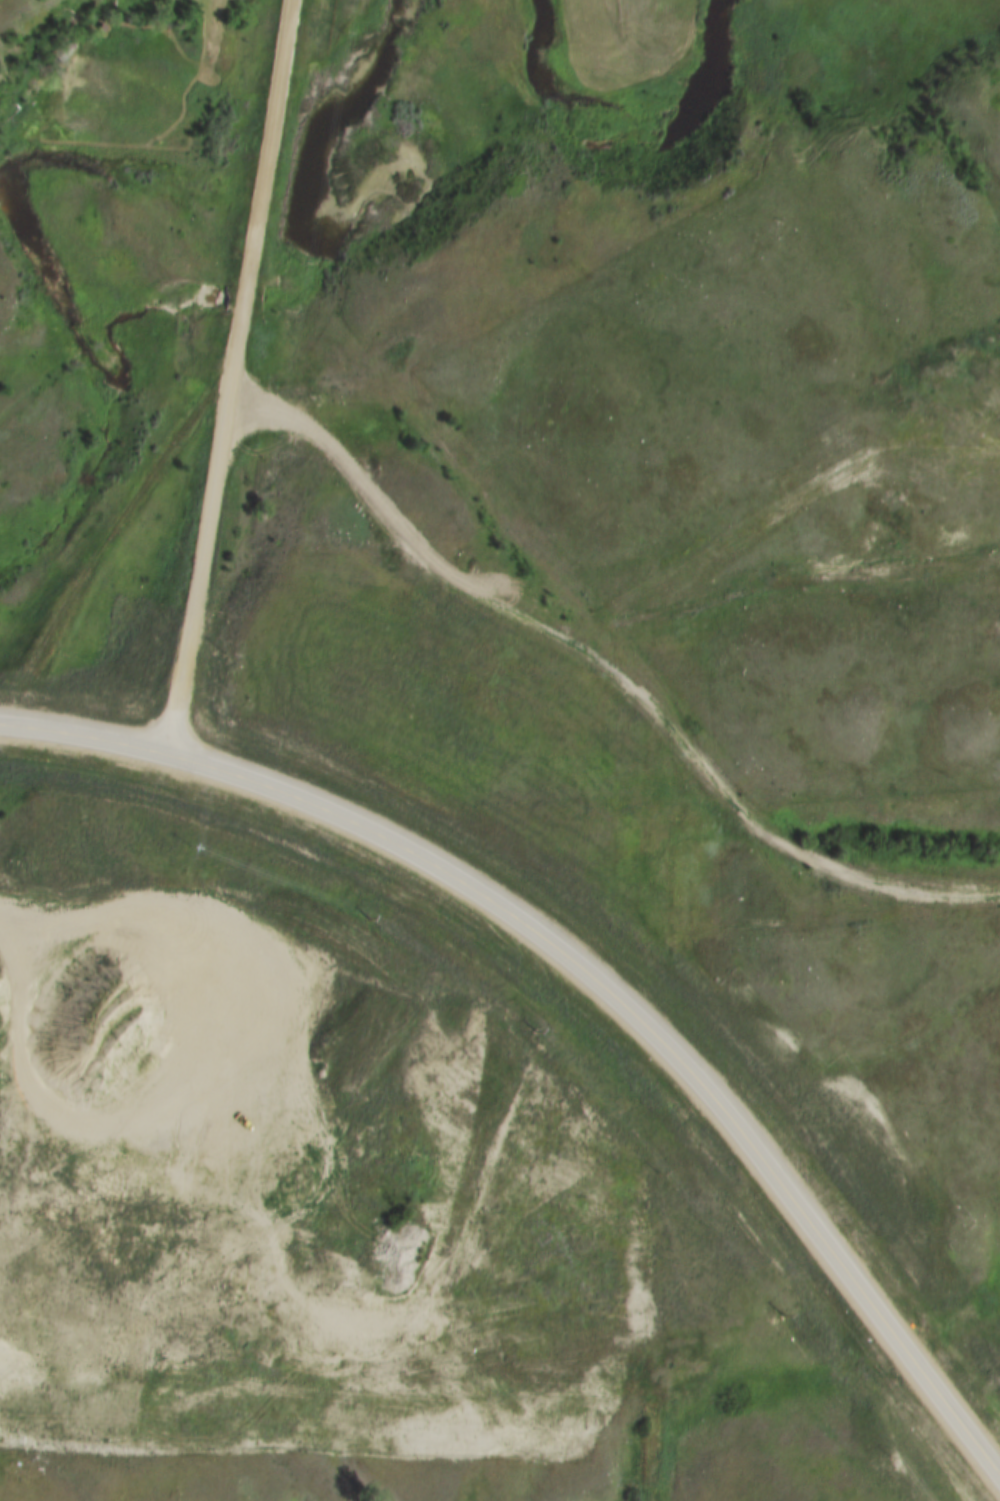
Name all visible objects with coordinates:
road: (233, 380)
road: (106, 543)
road: (607, 672)
road: (588, 979)
road: (209, 1231)

